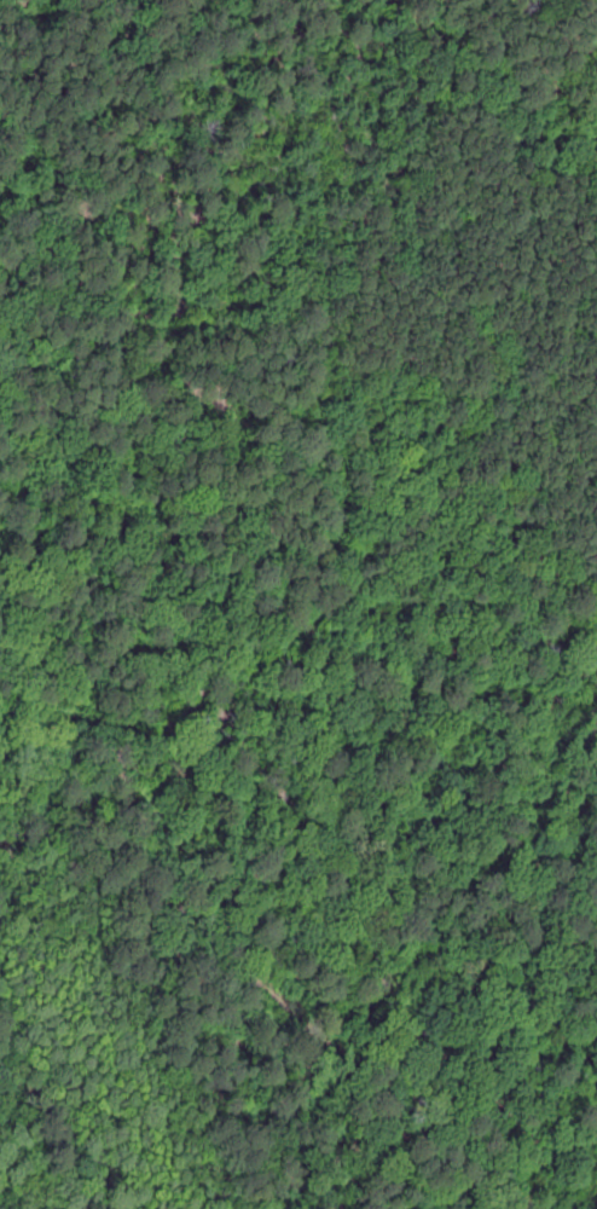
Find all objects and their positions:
road: (453, 543)
park: (298, 604)
road: (249, 987)

